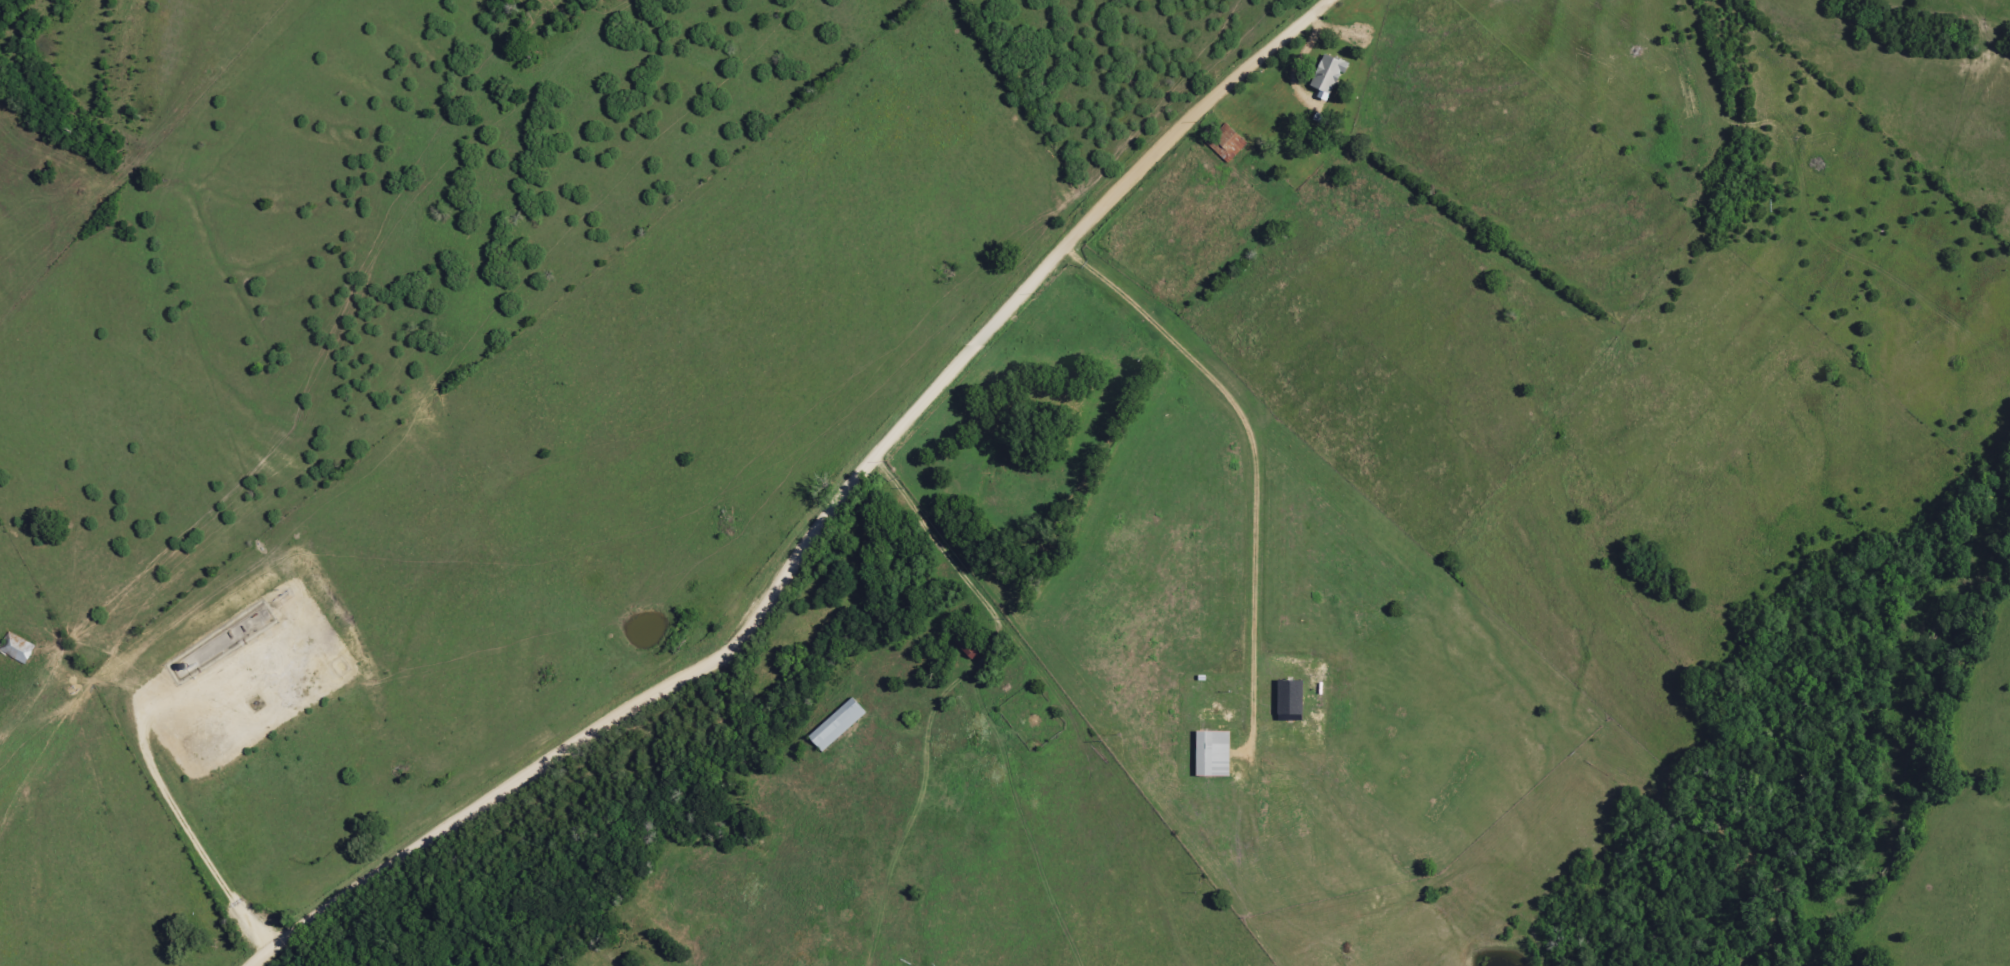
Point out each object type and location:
building: (1326, 75)
road: (1009, 116)
building: (1225, 144)
road: (823, 523)
building: (1287, 700)
building: (834, 725)
building: (1210, 754)

